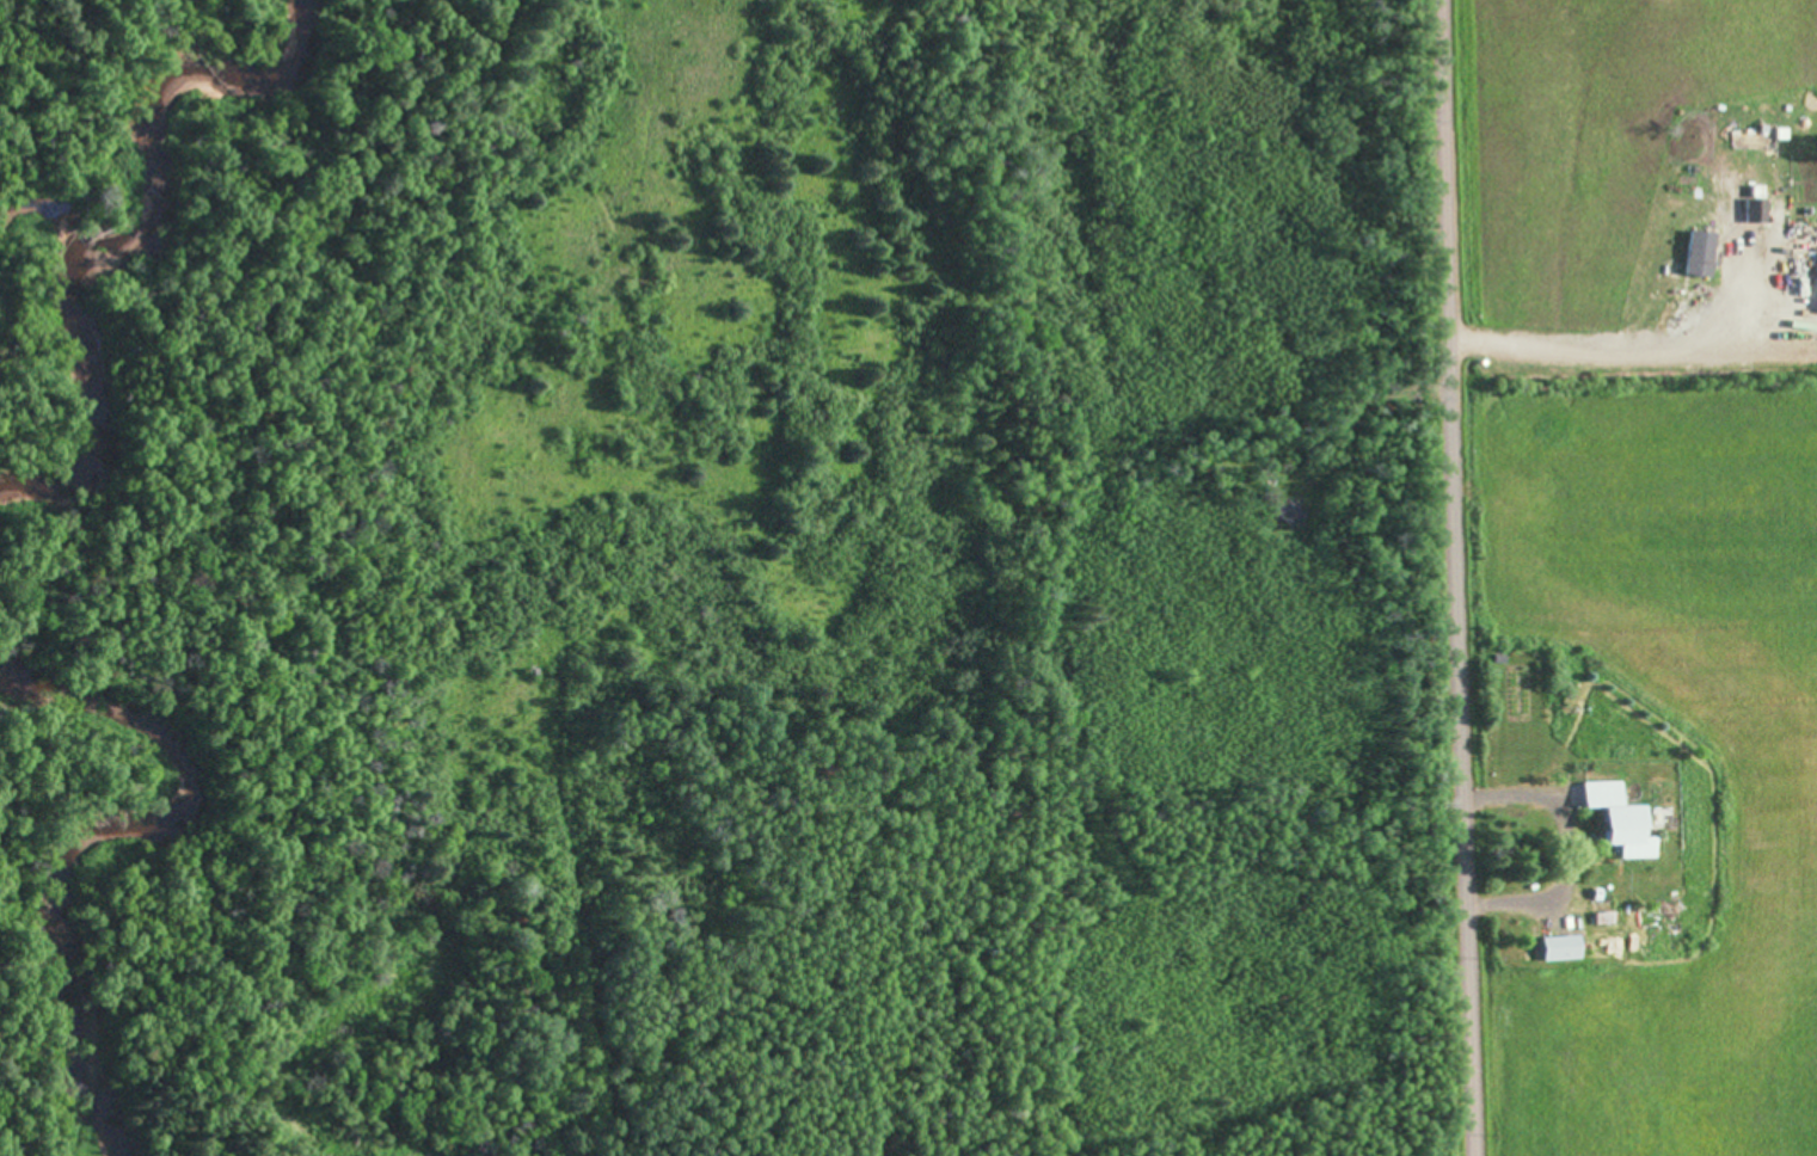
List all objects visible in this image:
road: (1462, 578)
building: (1626, 822)
building: (1555, 947)

